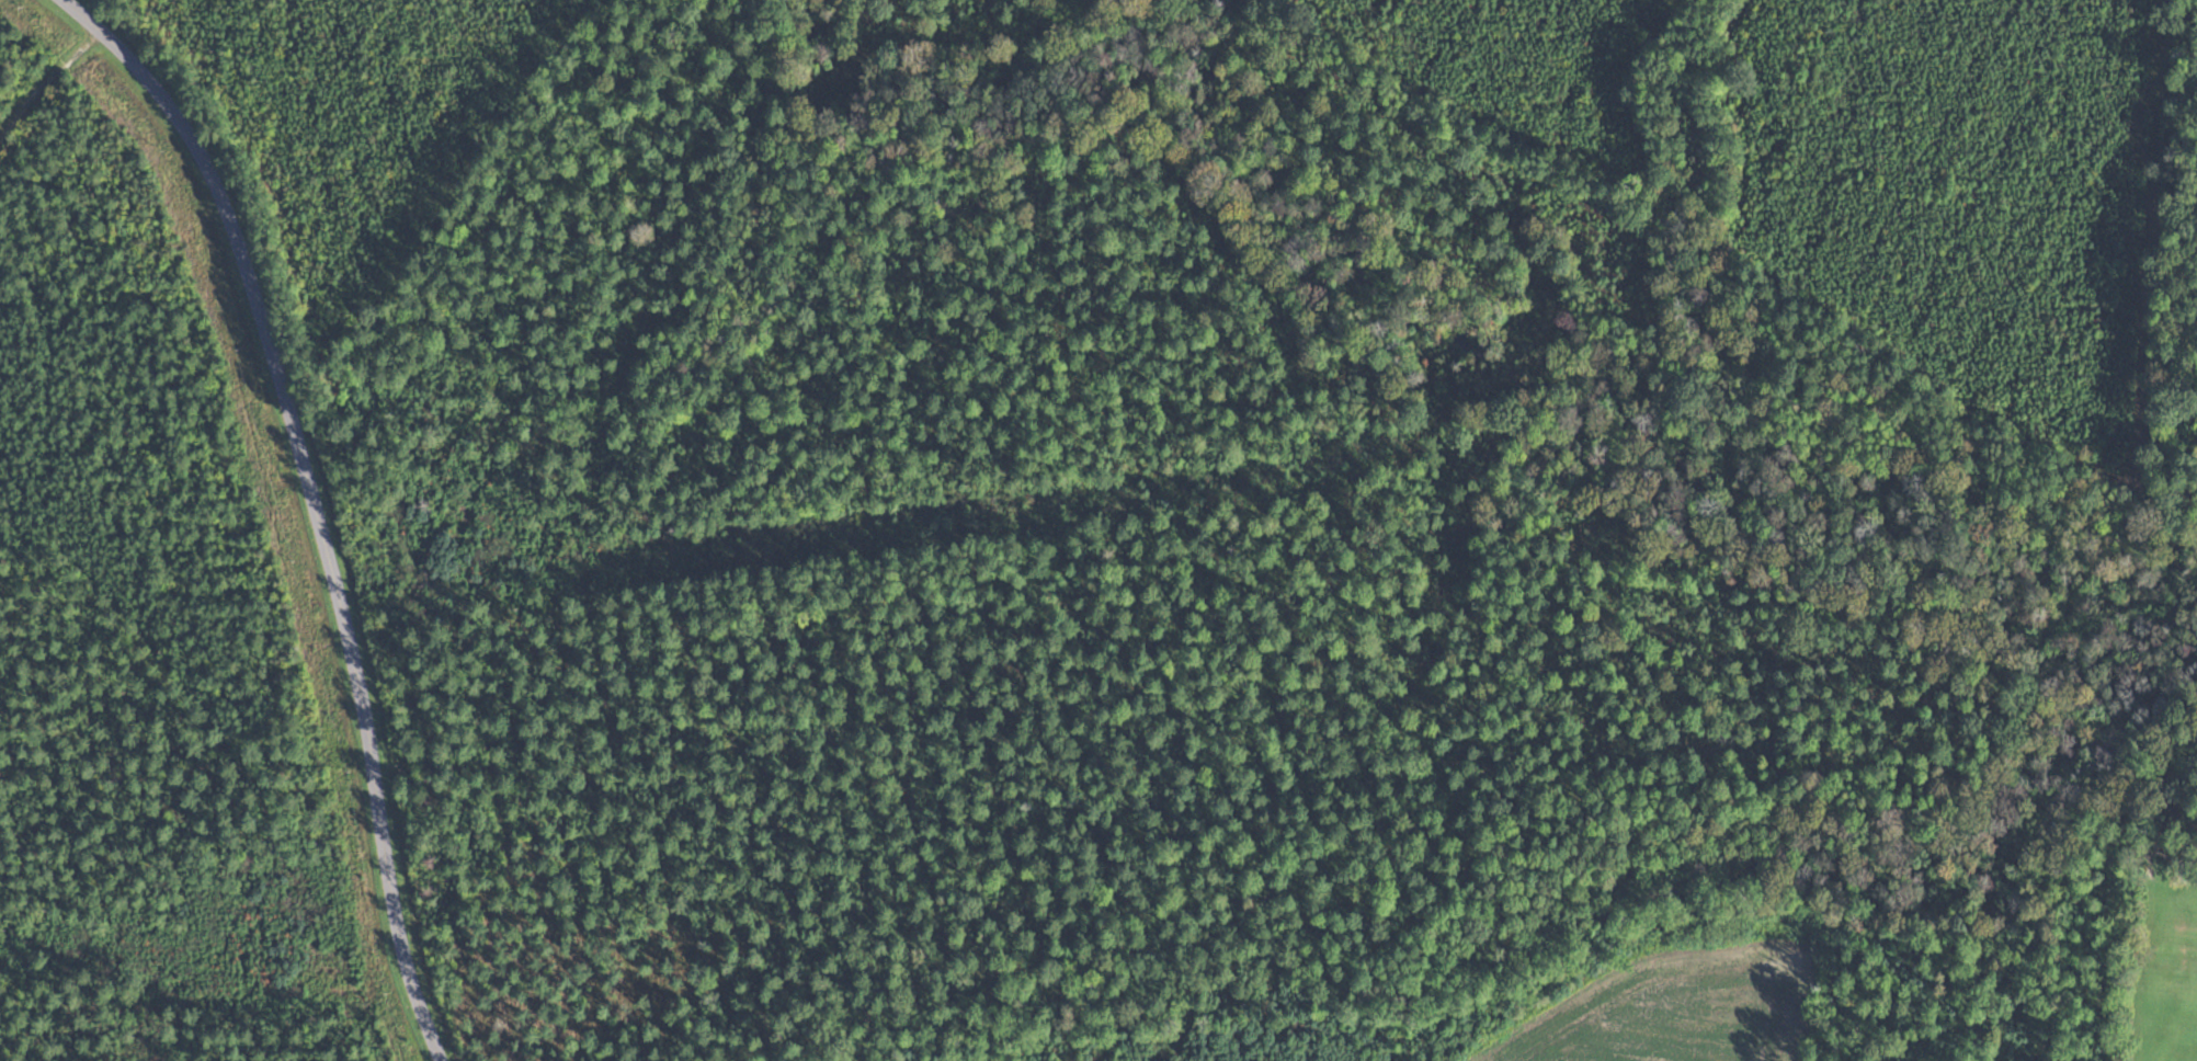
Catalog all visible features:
road: (82, 15)
road: (46, 80)
park: (1083, 525)
road: (320, 526)

